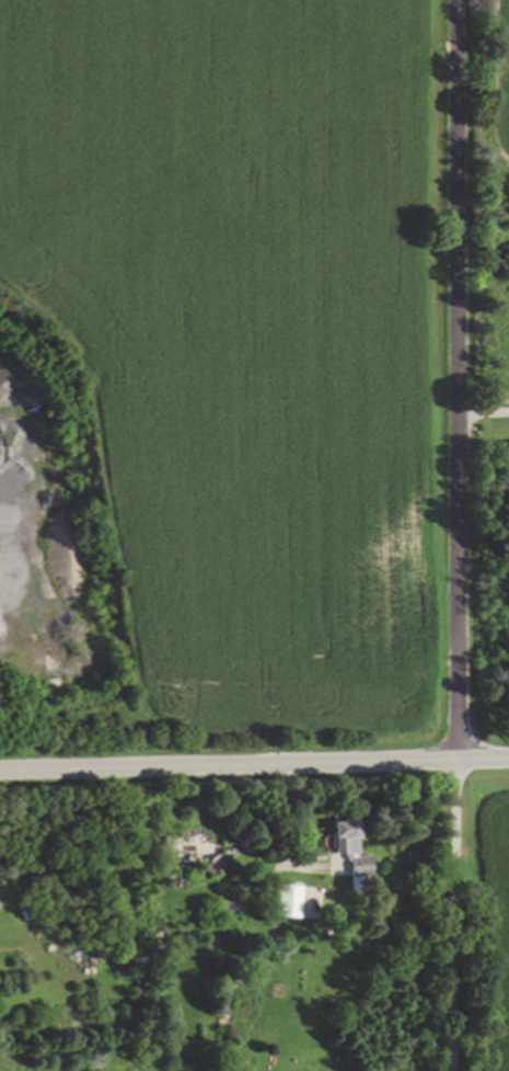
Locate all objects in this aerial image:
road: (462, 535)
road: (254, 766)
building: (349, 847)
building: (290, 902)

